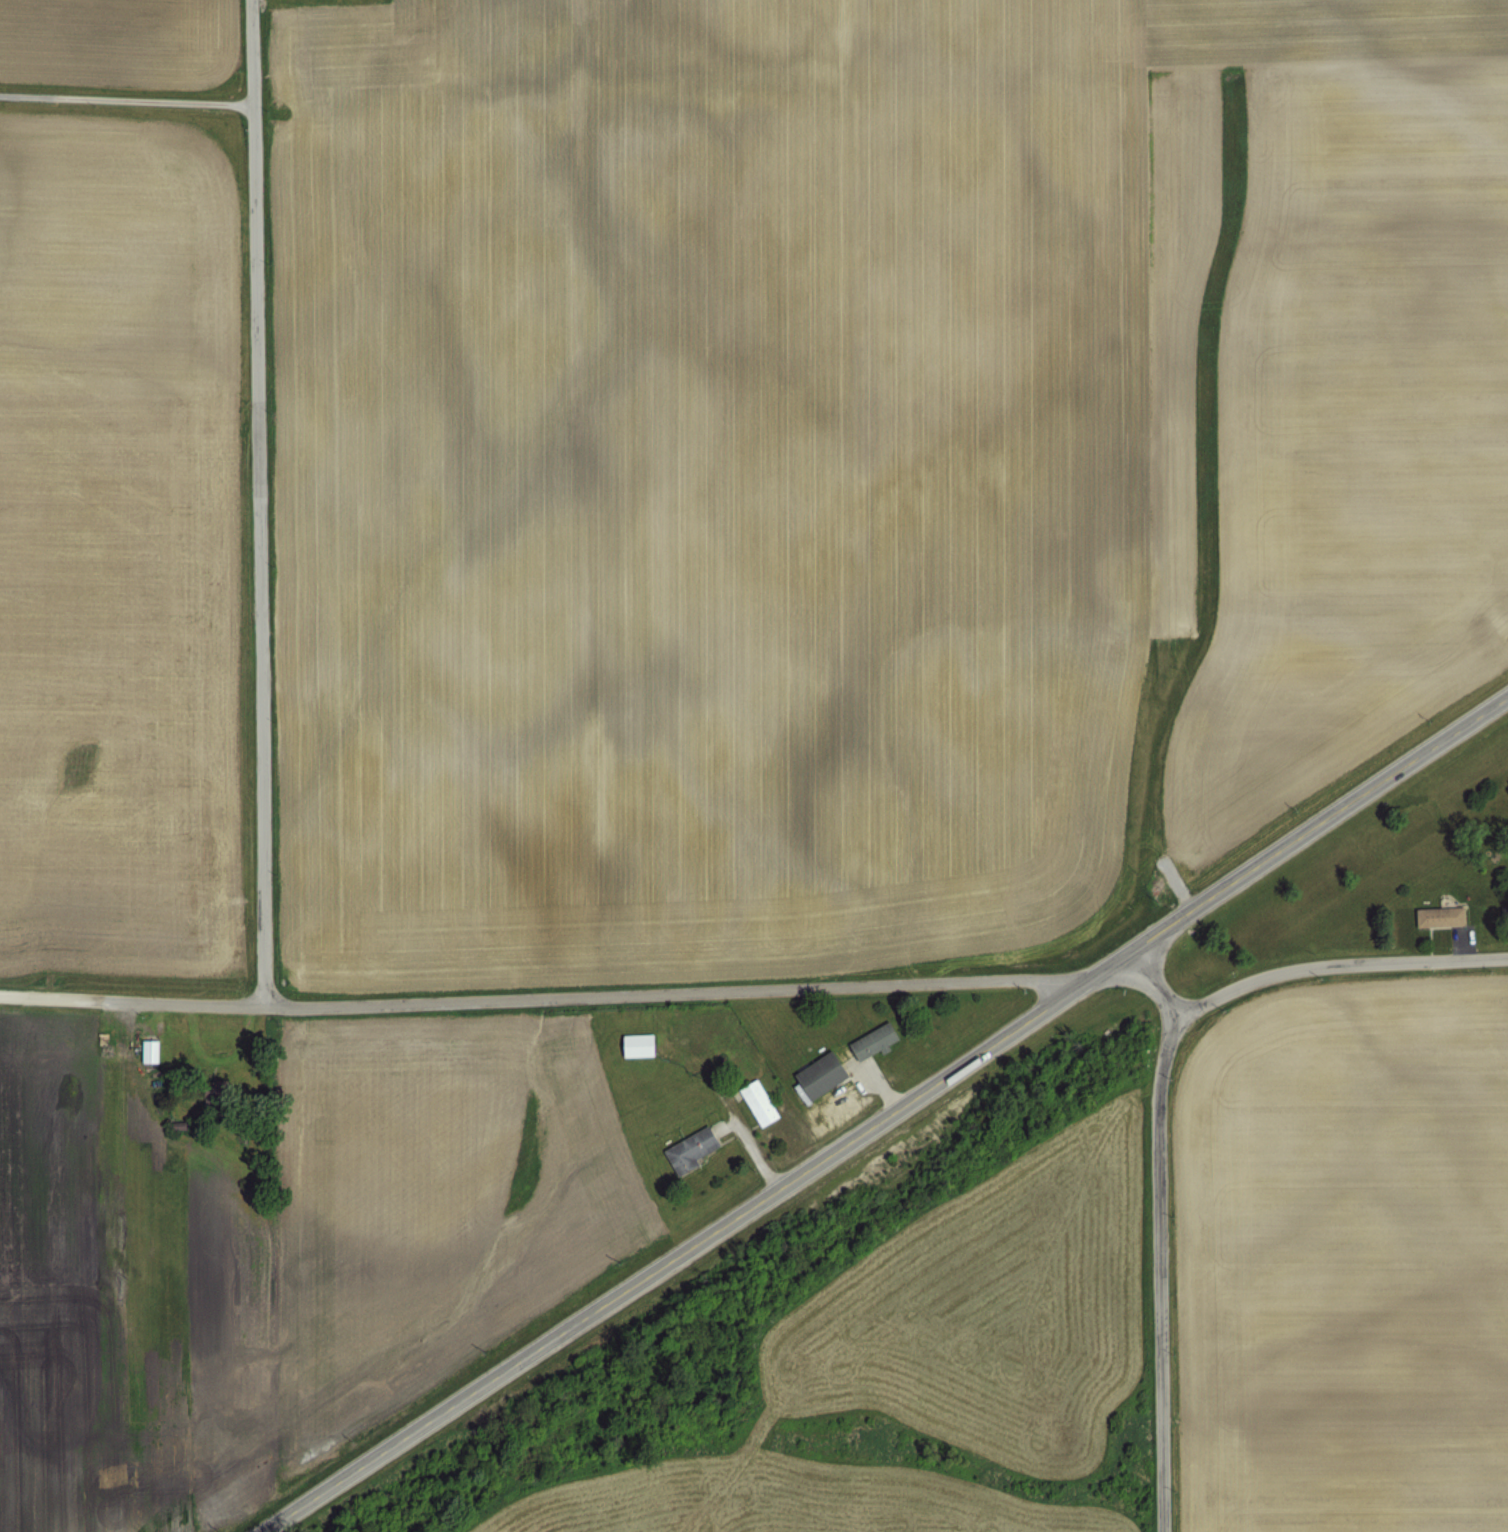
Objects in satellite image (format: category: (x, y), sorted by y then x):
road: (128, 98)
crop: (877, 465)
crop: (146, 482)
road: (259, 502)
building: (1436, 916)
road: (1340, 966)
road: (1147, 979)
road: (550, 998)
building: (869, 1038)
building: (632, 1043)
building: (145, 1049)
building: (152, 1052)
building: (813, 1074)
road: (878, 1087)
building: (754, 1100)
road: (886, 1116)
building: (686, 1146)
road: (748, 1150)
crop: (1343, 1170)
crop: (575, 1249)
road: (1163, 1270)

